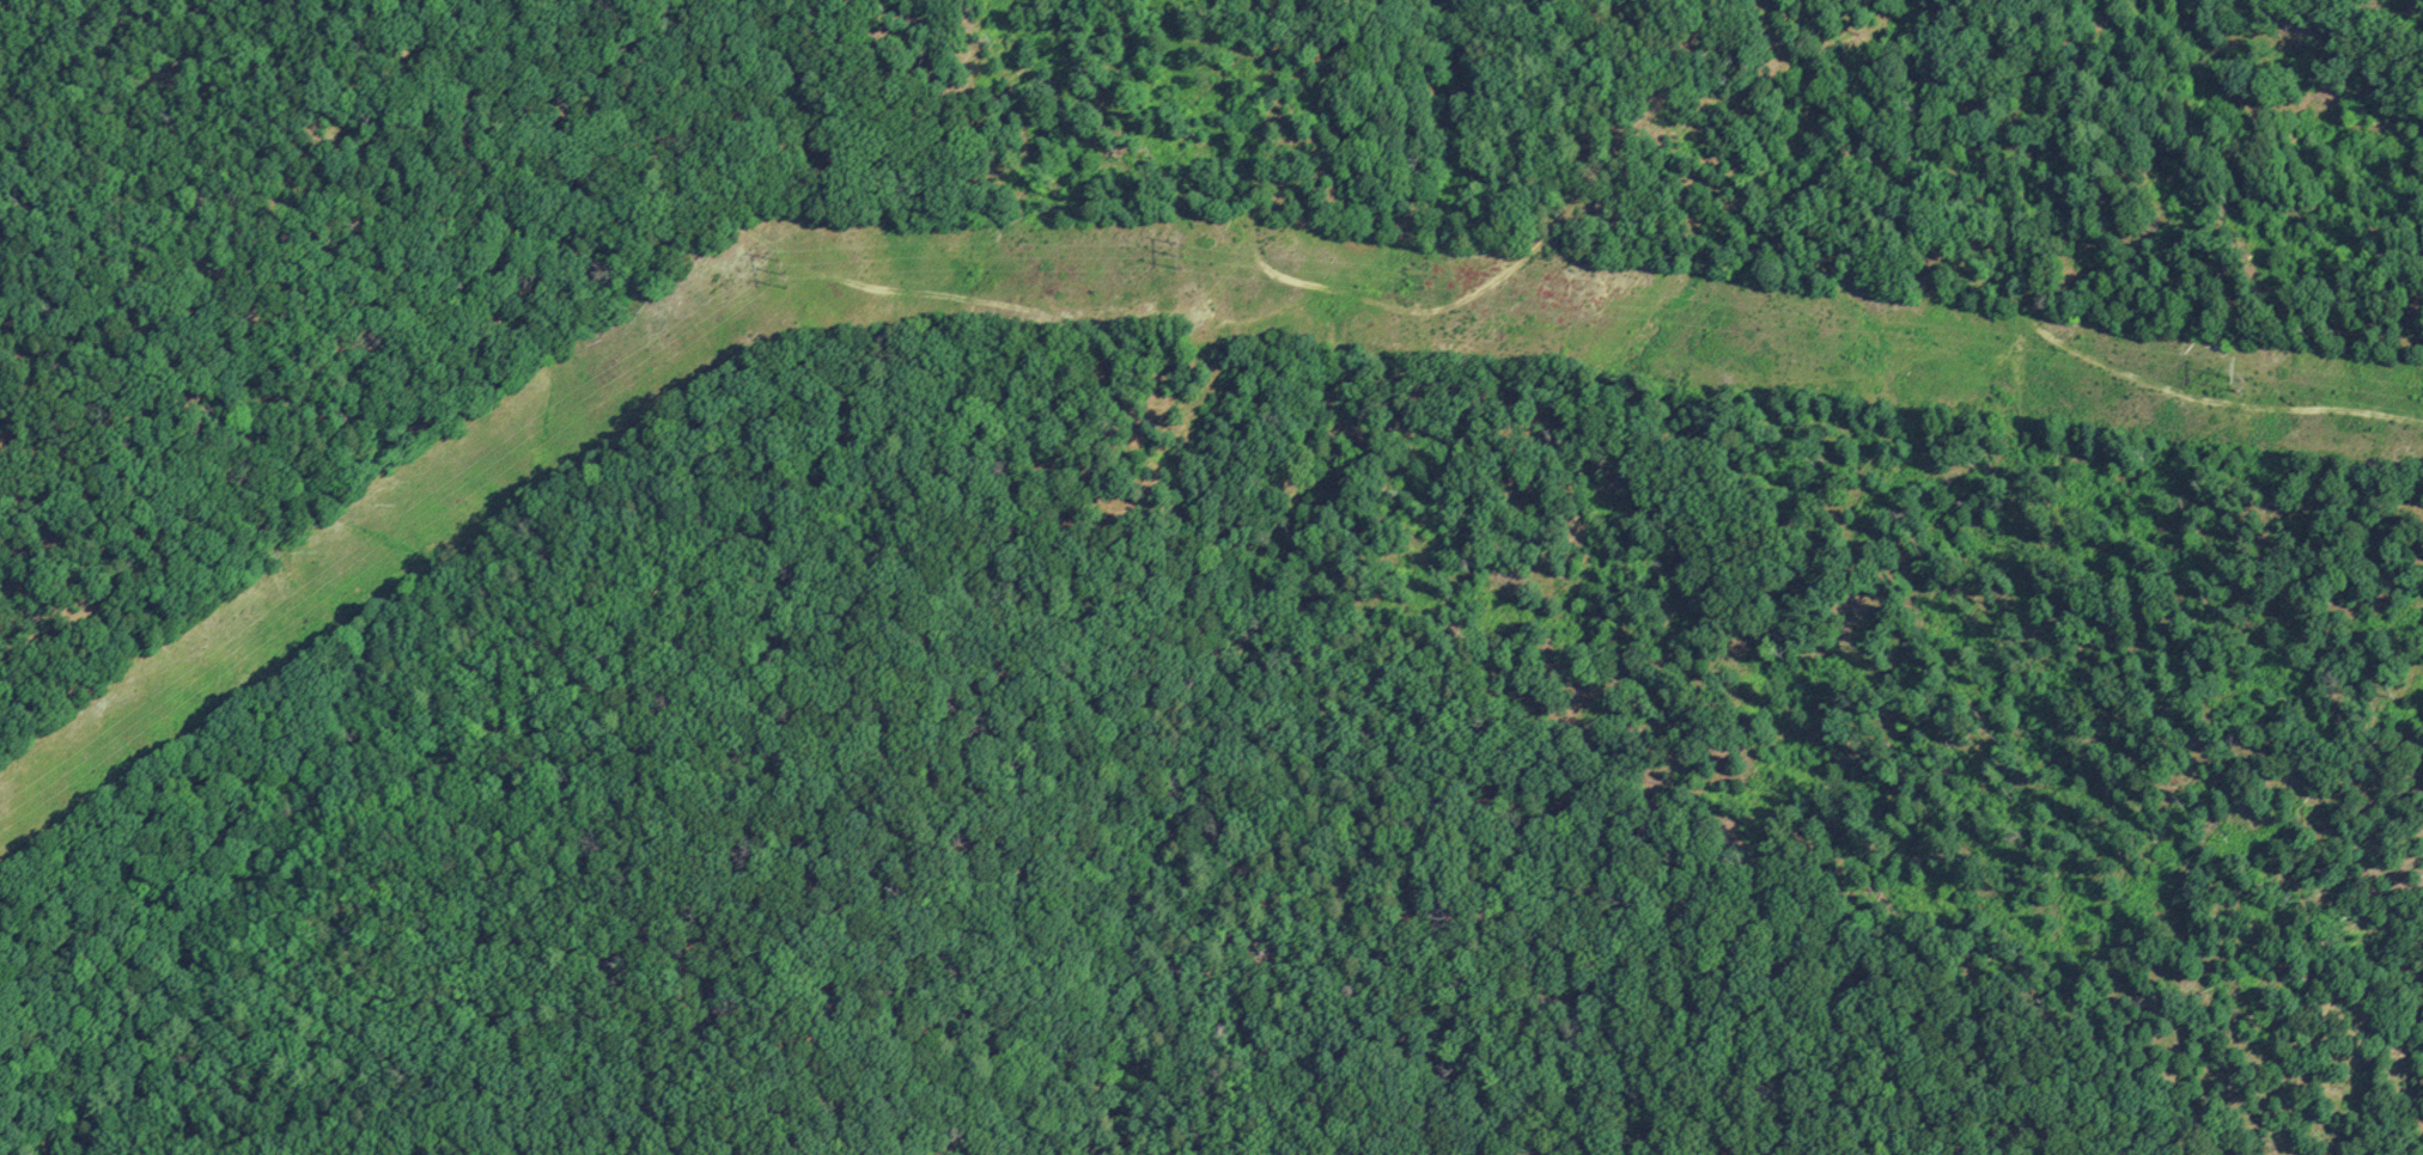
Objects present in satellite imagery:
power tower: (1183, 258)
power tower: (785, 274)
power tower: (2242, 386)

